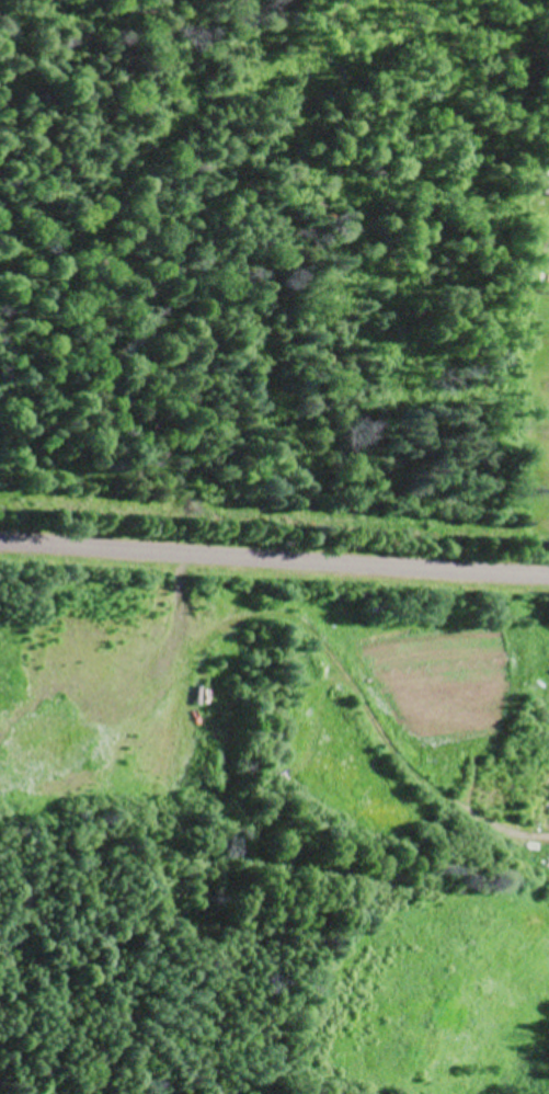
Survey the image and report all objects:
park: (523, 303)
road: (274, 561)

